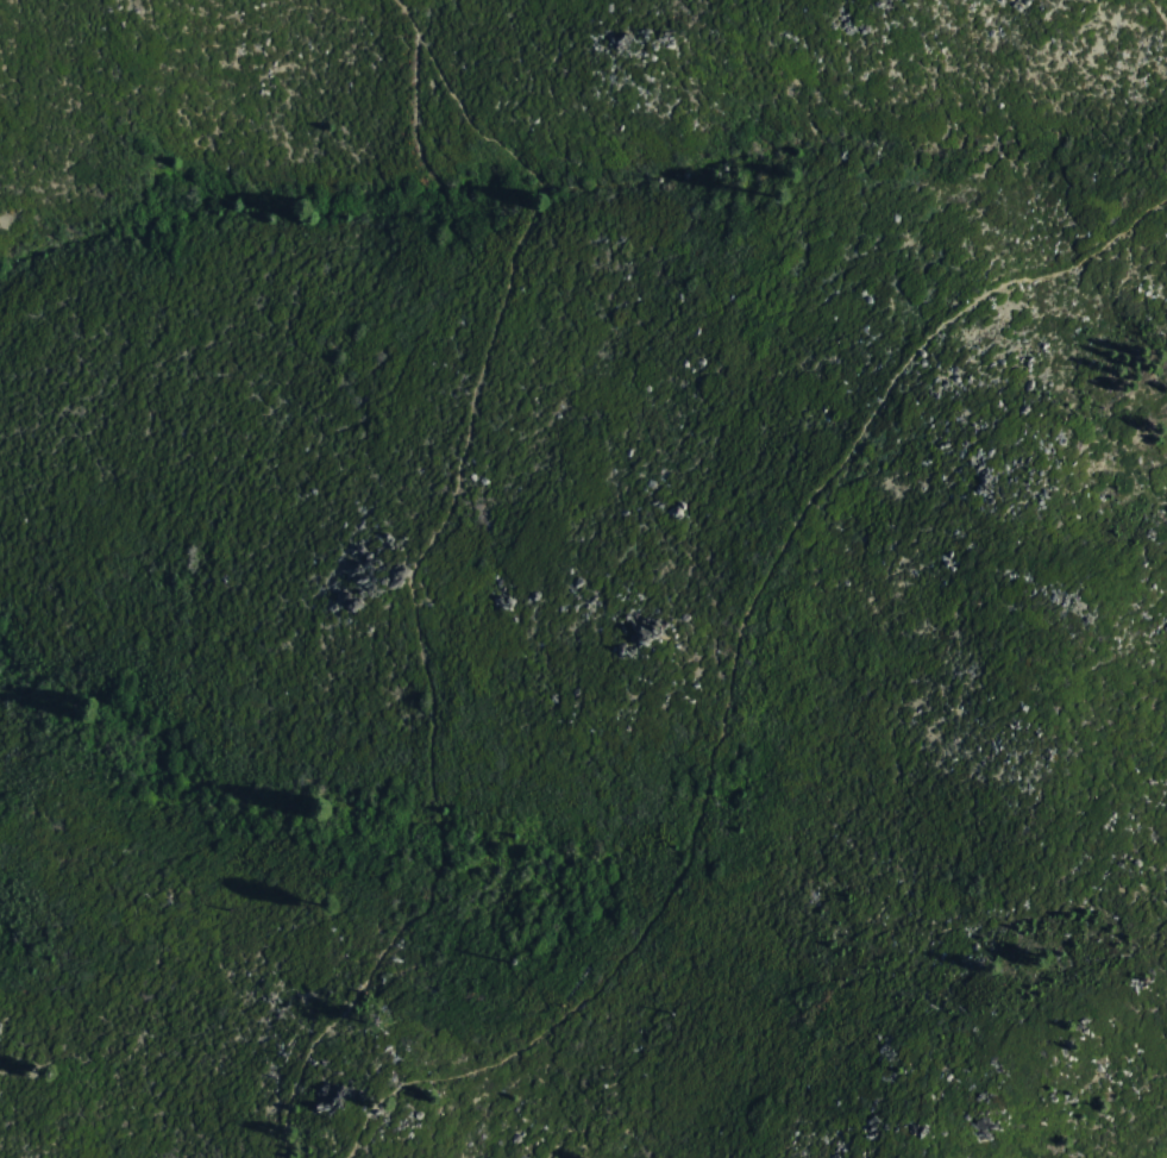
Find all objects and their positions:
road: (1161, 13)
road: (1041, 273)
road: (413, 562)
road: (696, 809)

